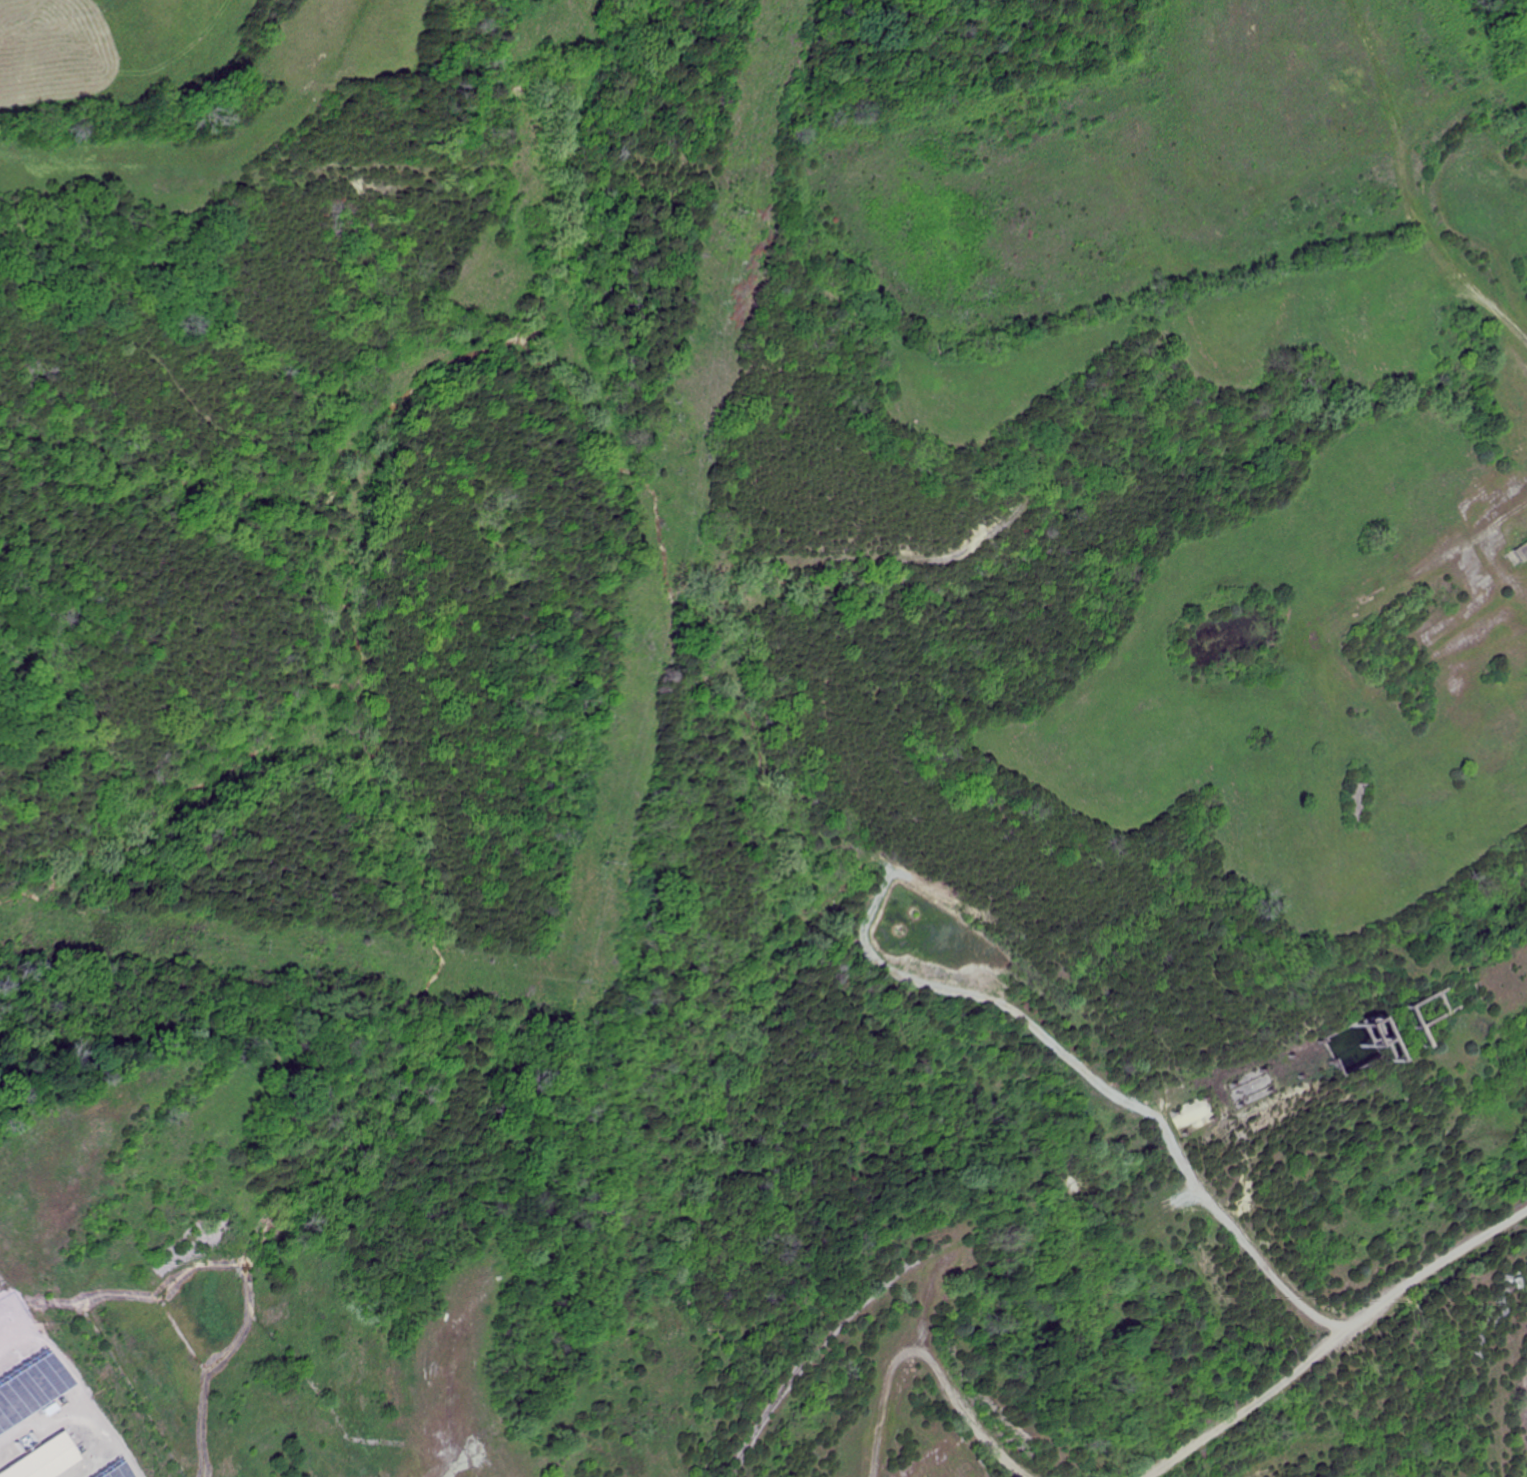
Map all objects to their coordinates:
road: (1365, 187)
power tower: (727, 212)
power tower: (582, 858)
power tower: (237, 941)
power tower: (561, 978)
road: (1326, 1342)
building: (16, 1377)
road: (970, 1411)
building: (23, 1456)
building: (89, 1468)

